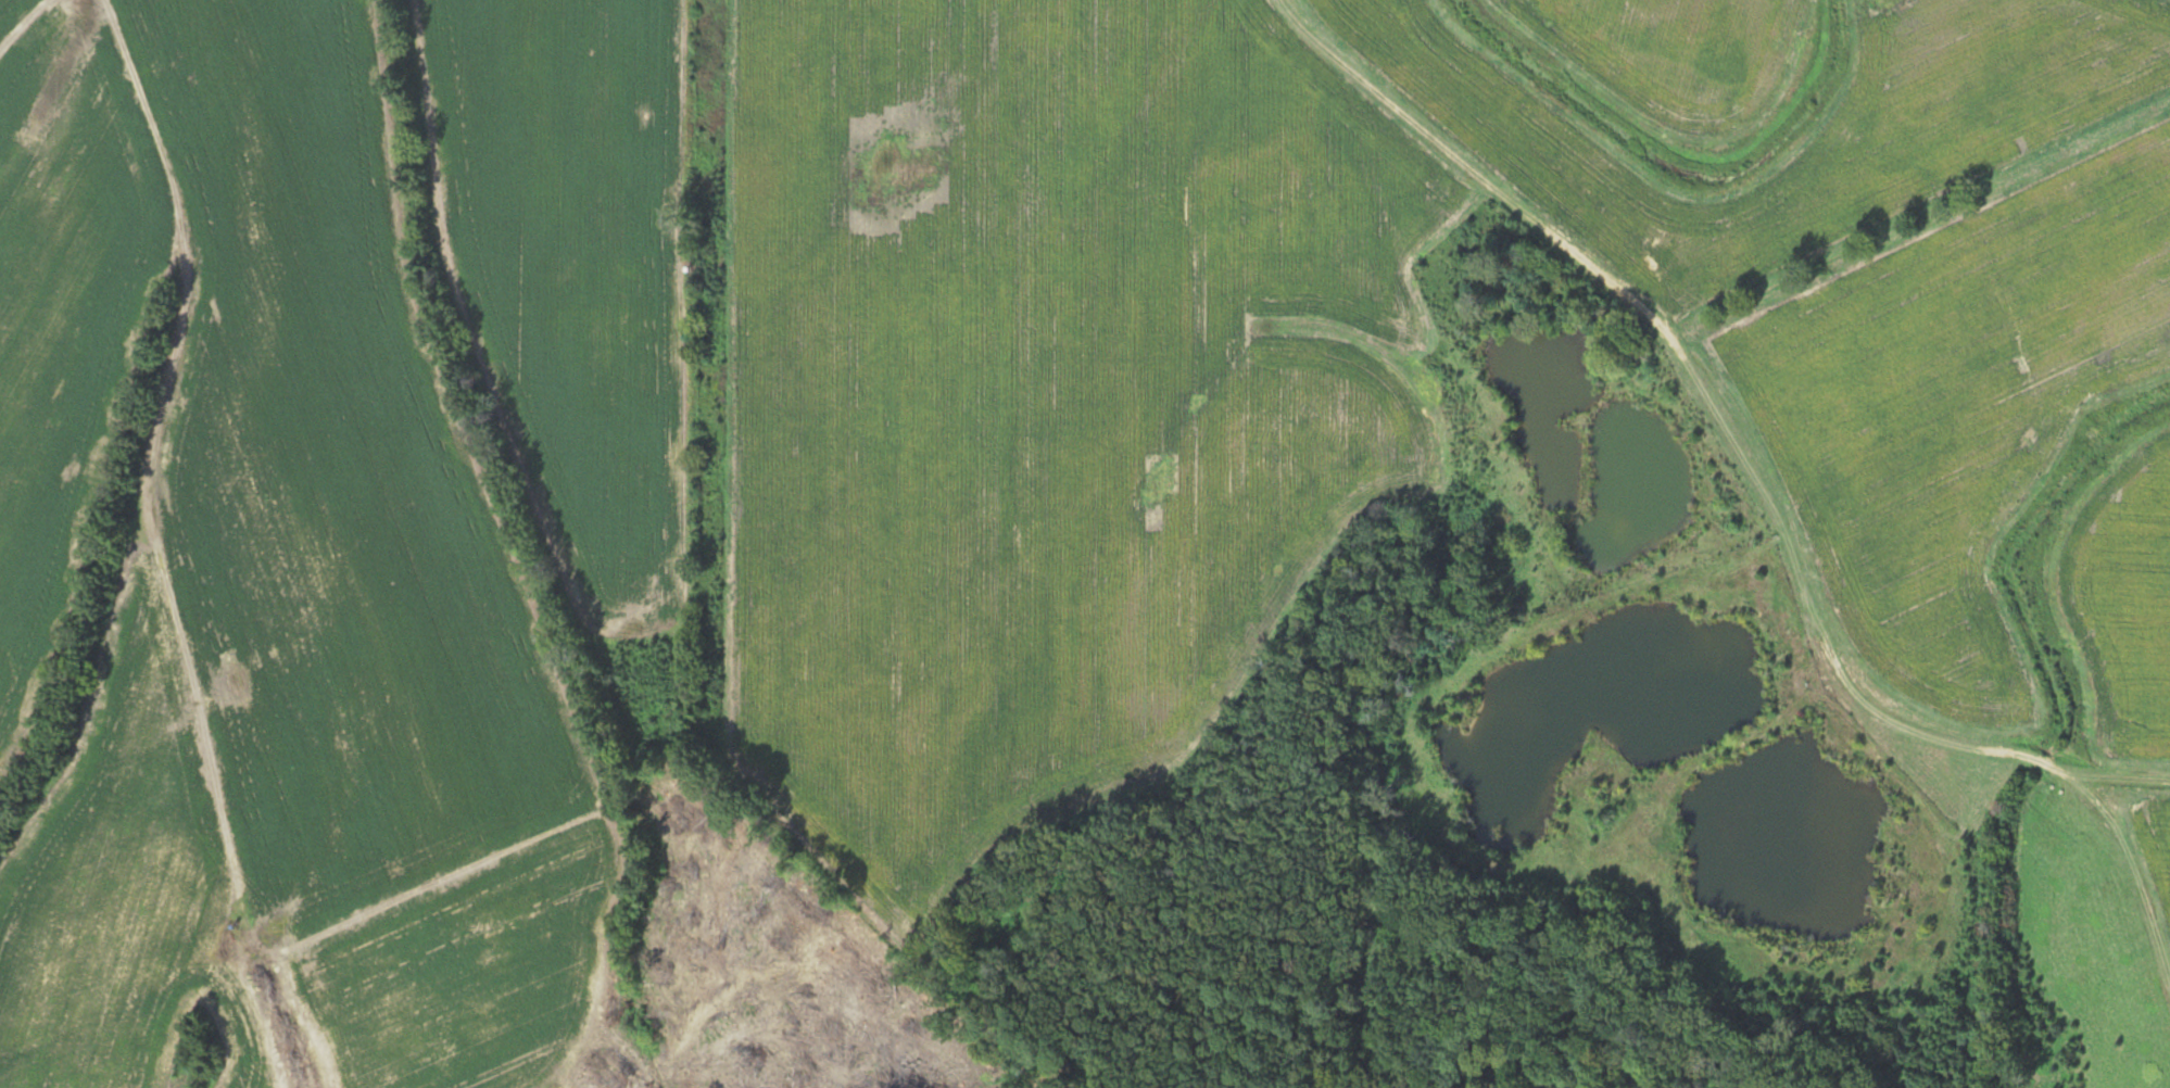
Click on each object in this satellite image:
road: (1690, 440)

